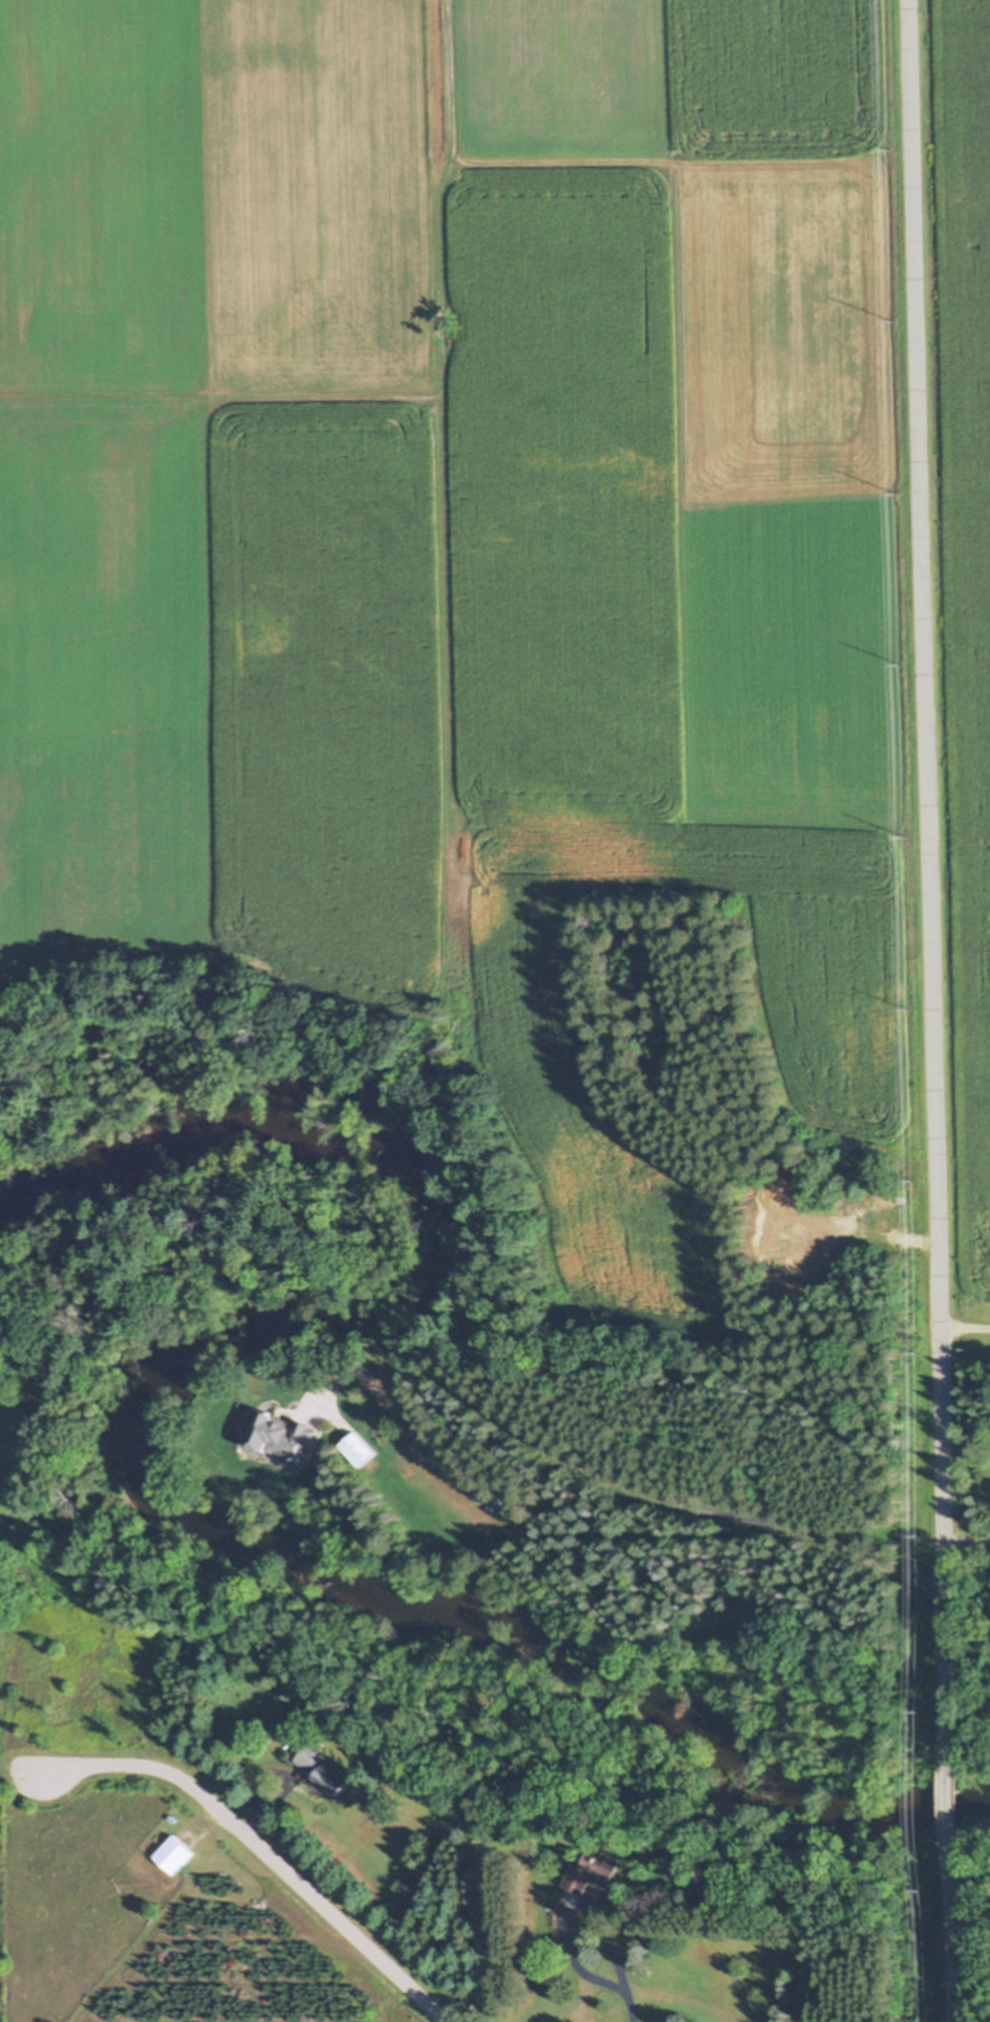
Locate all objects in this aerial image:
road: (927, 882)
building: (115, 1150)
road: (963, 1327)
river: (146, 1429)
building: (279, 1437)
building: (356, 1449)
road: (643, 1491)
building: (480, 1495)
building: (494, 1507)
road: (965, 1544)
building: (322, 1771)
road: (945, 1810)
road: (261, 1850)
building: (173, 1855)
building: (581, 1880)
road: (564, 1904)
road: (948, 1939)
road: (626, 2002)

